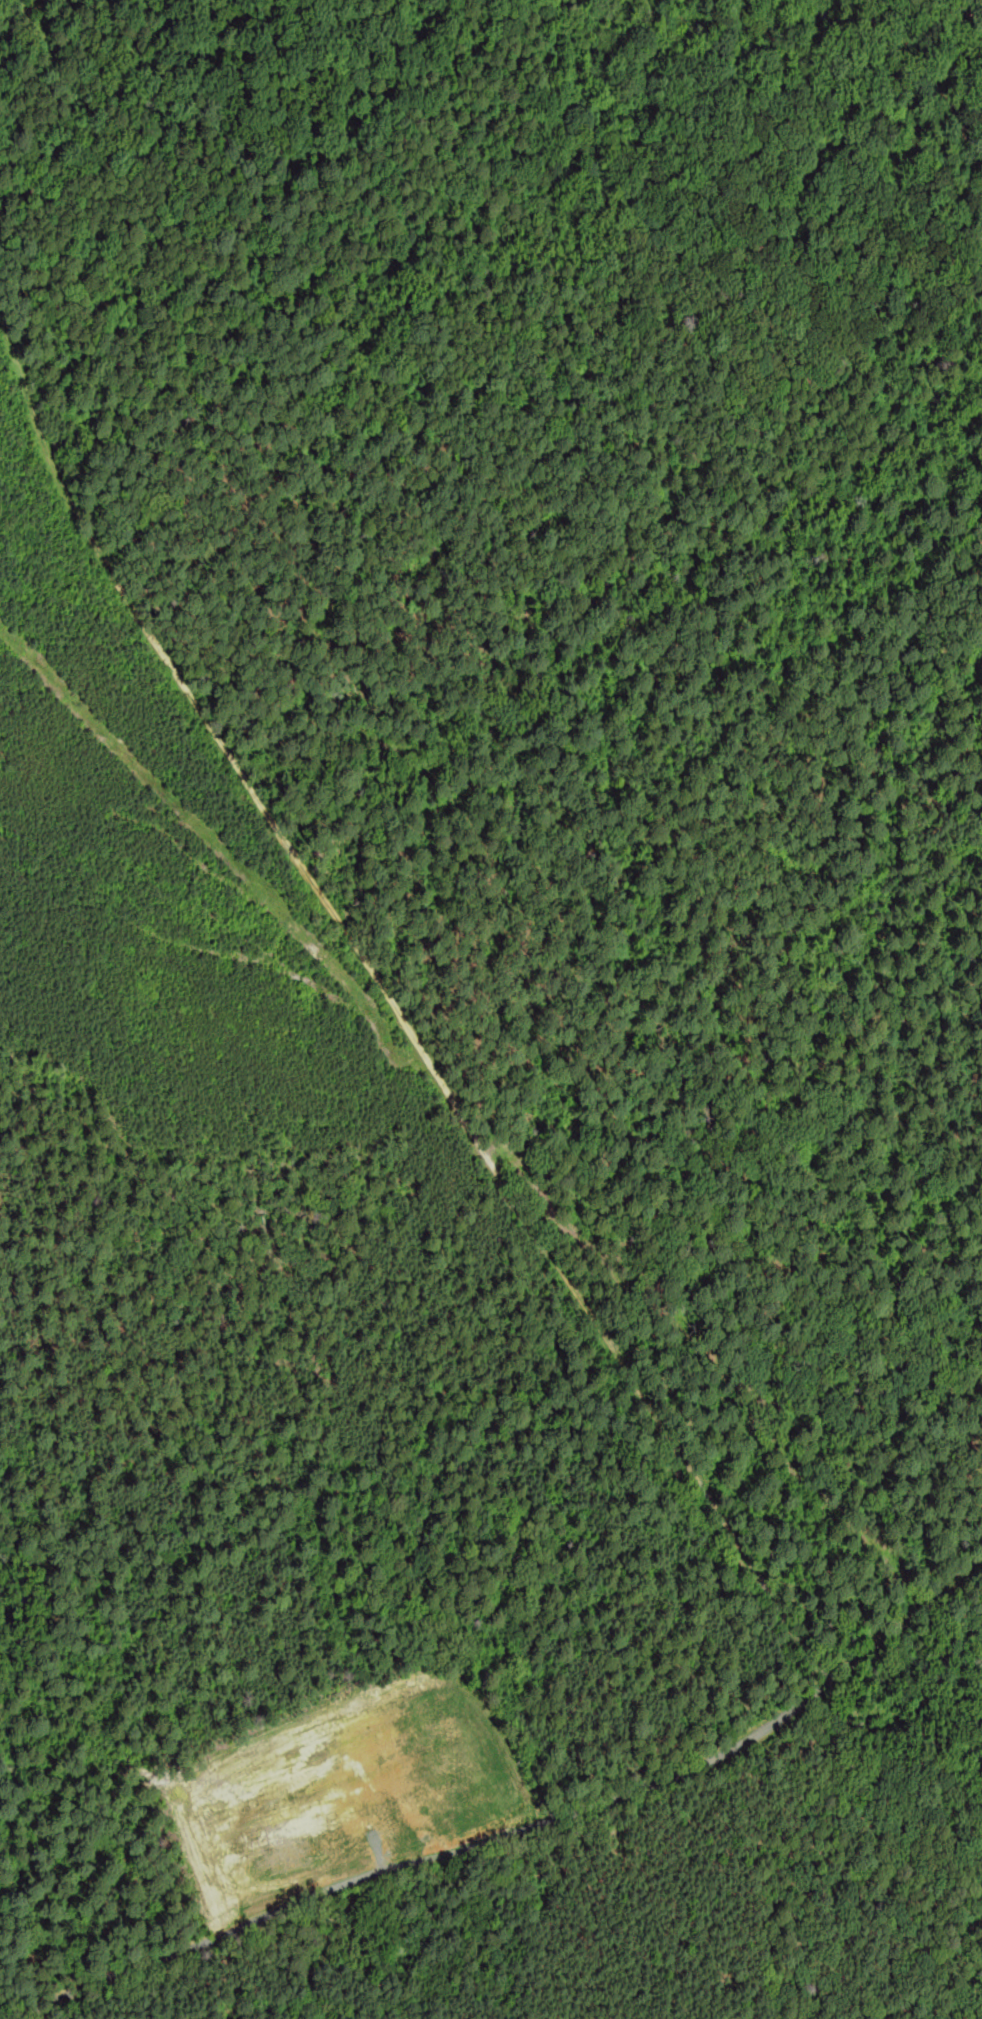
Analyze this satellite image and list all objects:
road: (399, 1007)
road: (525, 1831)

